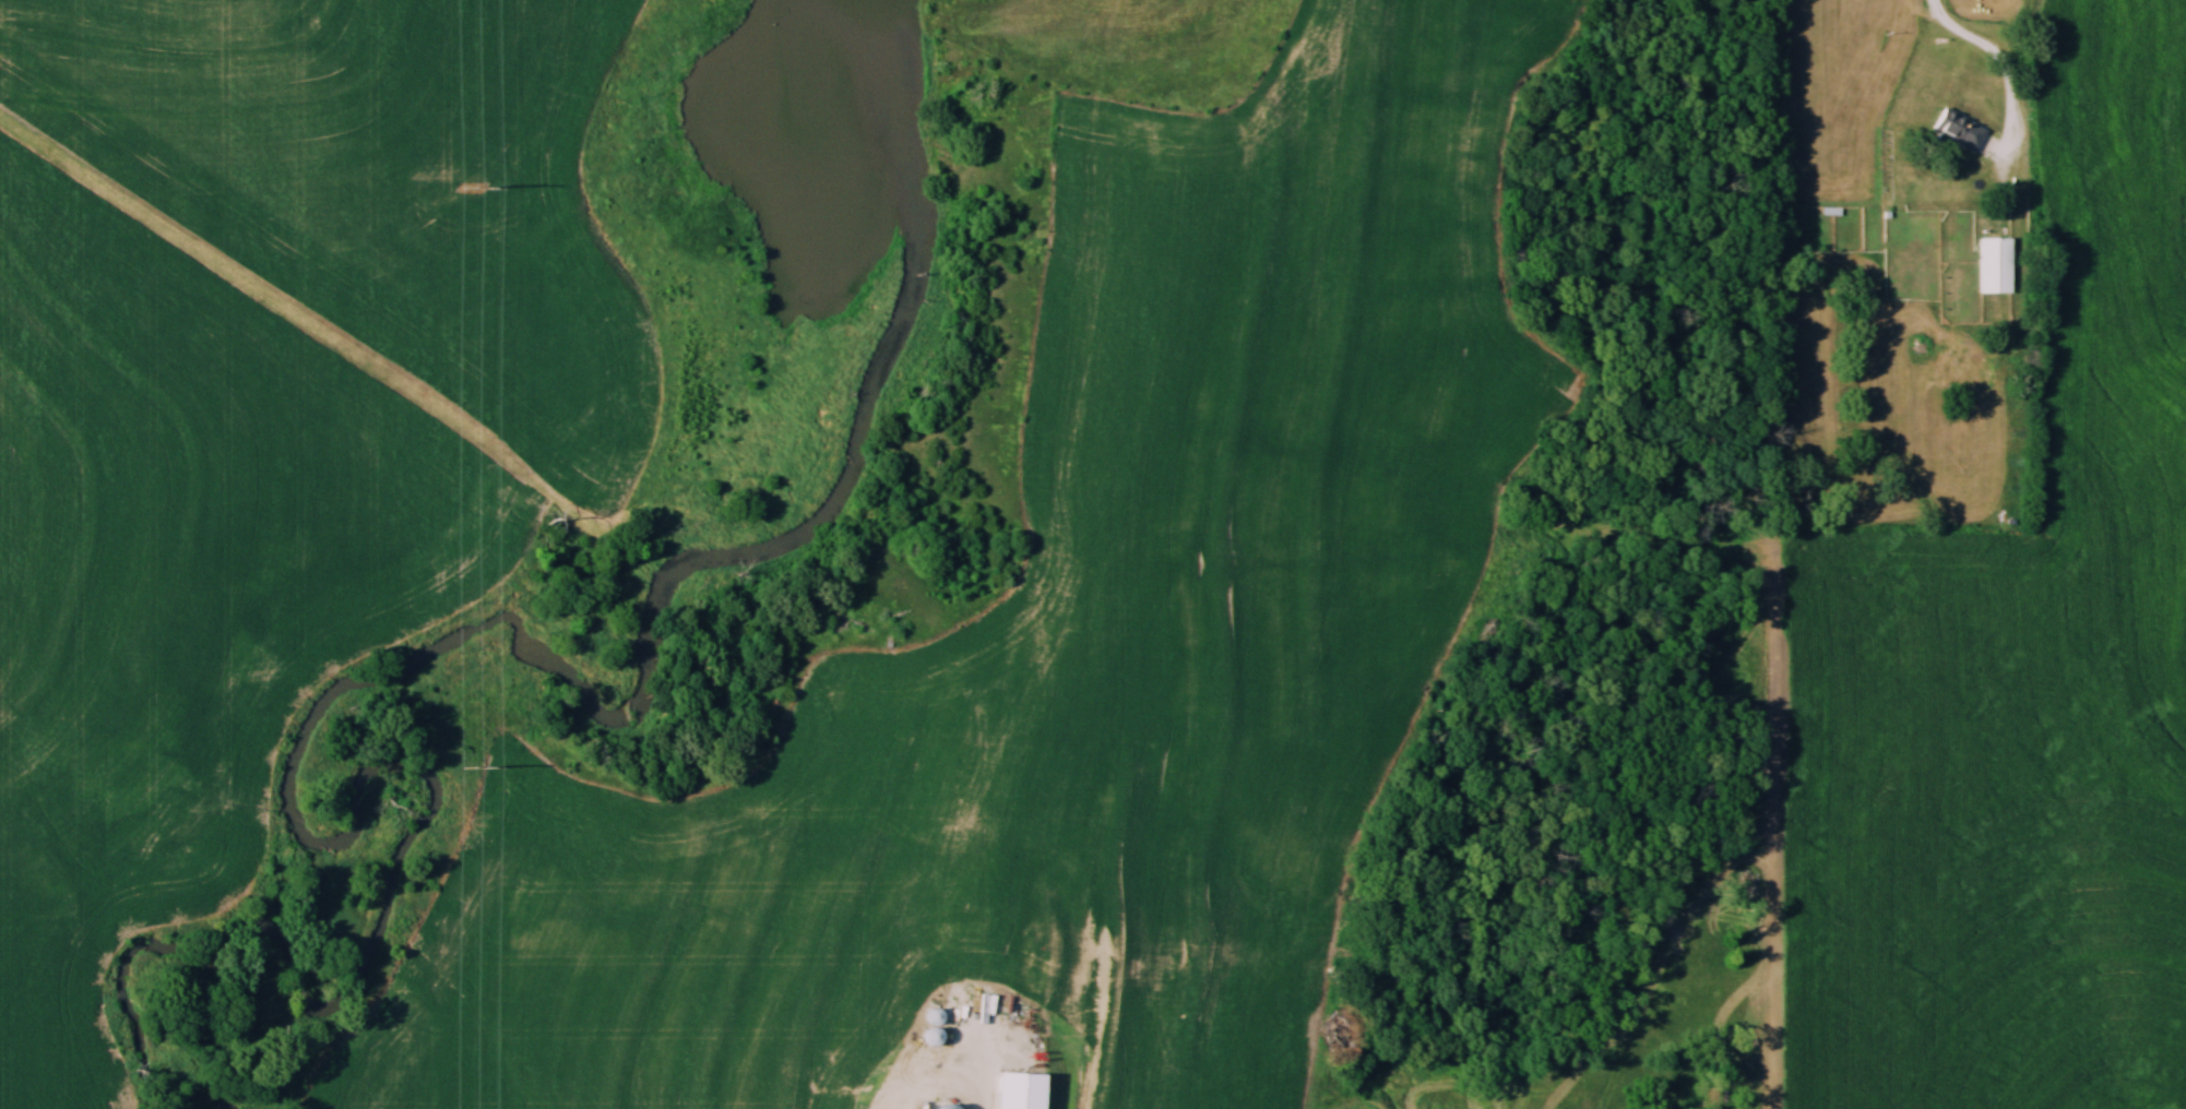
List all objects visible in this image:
road: (2000, 62)
building: (1960, 129)
power tower: (473, 189)
building: (1996, 265)
power tower: (476, 772)
building: (934, 1039)
road: (935, 1081)
building: (949, 1108)

